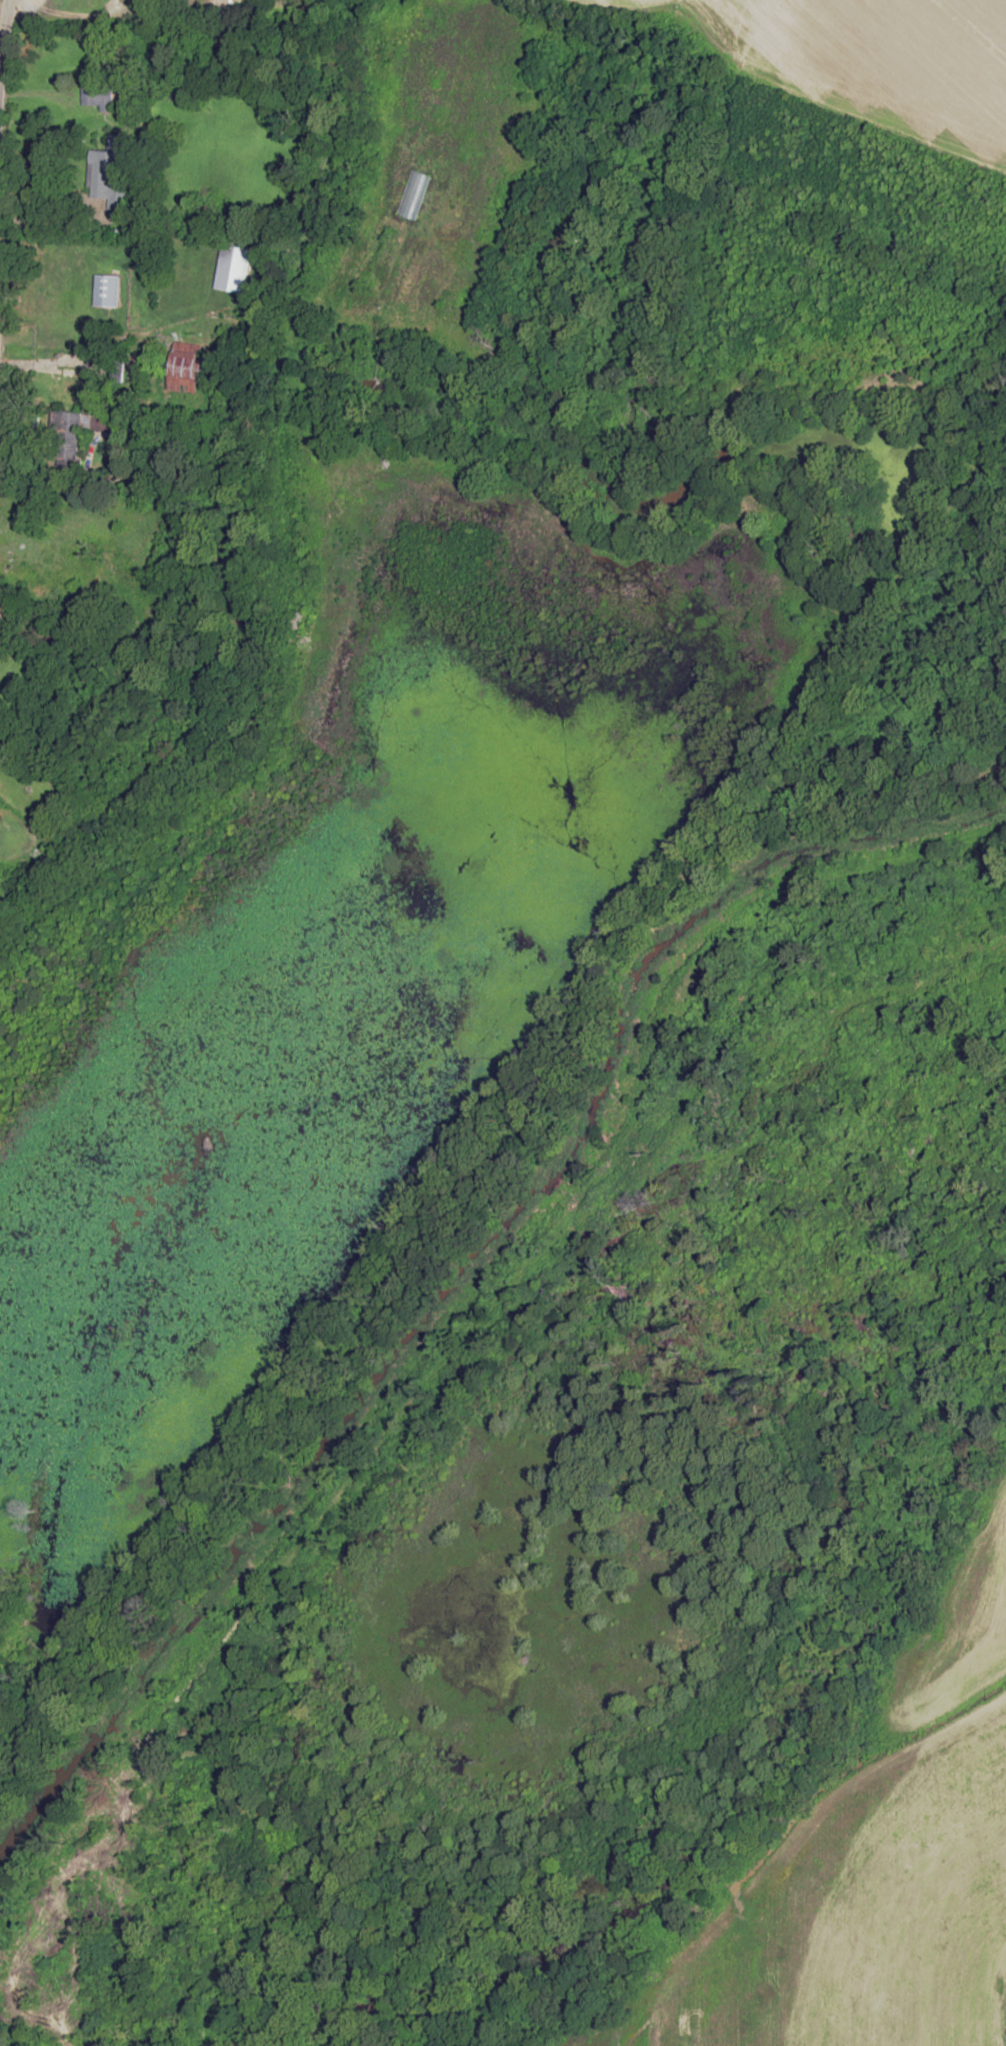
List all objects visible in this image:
building: (221, 5)
road: (2, 9)
building: (96, 92)
building: (108, 171)
building: (234, 268)
building: (106, 290)
road: (342, 309)
building: (186, 368)
building: (67, 445)
building: (0, 617)

